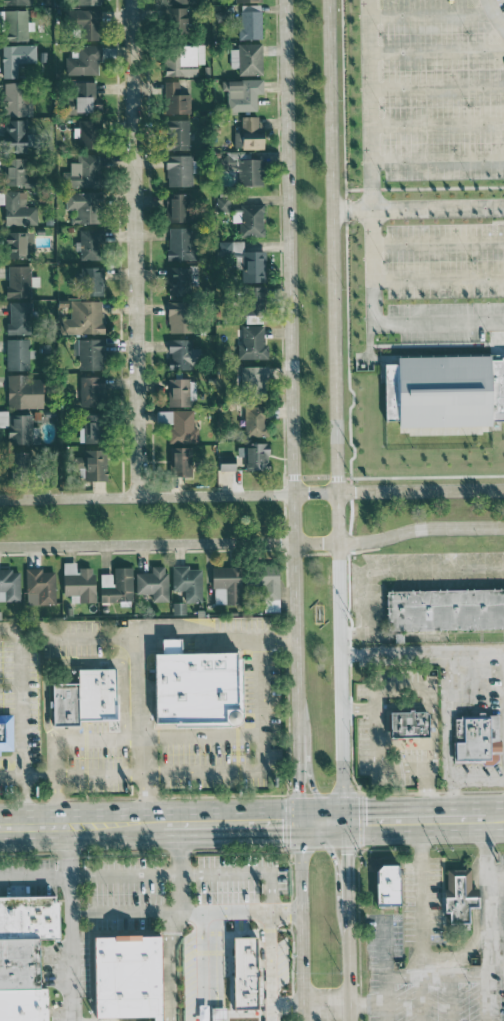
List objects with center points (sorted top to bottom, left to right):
building: (248, 1)
building: (18, 2)
building: (90, 2)
building: (180, 12)
road: (495, 13)
building: (84, 21)
building: (250, 21)
building: (18, 24)
building: (247, 58)
building: (18, 59)
building: (184, 59)
building: (84, 60)
parking lot: (439, 92)
building: (243, 93)
building: (89, 97)
building: (18, 98)
building: (176, 99)
building: (91, 133)
building: (177, 134)
building: (19, 135)
building: (249, 135)
building: (245, 167)
building: (180, 170)
building: (84, 172)
building: (17, 173)
building: (222, 203)
building: (85, 206)
building: (178, 207)
building: (18, 208)
road: (417, 208)
building: (250, 219)
road: (372, 226)
building: (90, 244)
building: (180, 244)
road: (134, 247)
building: (246, 260)
parking lot: (444, 260)
building: (94, 279)
building: (20, 281)
building: (180, 281)
building: (86, 317)
building: (182, 317)
building: (255, 317)
building: (20, 318)
parking lot: (442, 321)
building: (252, 343)
building: (91, 352)
building: (17, 354)
building: (181, 354)
building: (255, 376)
building: (92, 391)
building: (181, 391)
building: (25, 392)
building: (444, 392)
building: (256, 419)
building: (179, 426)
building: (20, 428)
building: (96, 429)
building: (257, 455)
building: (186, 461)
building: (227, 462)
building: (97, 465)
road: (420, 490)
road: (168, 494)
road: (294, 510)
road: (337, 510)
road: (252, 542)
building: (188, 582)
building: (80, 583)
building: (154, 583)
building: (10, 585)
building: (41, 585)
building: (117, 585)
building: (229, 585)
building: (272, 588)
building: (442, 609)
road: (370, 613)
road: (149, 632)
building: (201, 687)
building: (89, 698)
building: (402, 724)
road: (142, 725)
road: (25, 728)
building: (7, 732)
road: (114, 736)
building: (473, 738)
road: (307, 768)
road: (197, 772)
road: (494, 813)
road: (415, 815)
road: (322, 816)
traffic signals: (346, 816)
traffic signals: (299, 817)
road: (231, 818)
road: (81, 820)
road: (494, 869)
road: (336, 872)
road: (189, 873)
road: (36, 879)
building: (381, 885)
road: (419, 894)
building: (458, 895)
road: (171, 912)
road: (484, 917)
road: (73, 920)
road: (178, 920)
road: (270, 942)
building: (25, 955)
road: (201, 966)
building: (248, 973)
road: (444, 973)
building: (133, 977)
parking lot: (440, 996)
road: (385, 997)
road: (280, 1006)
road: (328, 1006)
road: (369, 1006)
building: (220, 1014)

